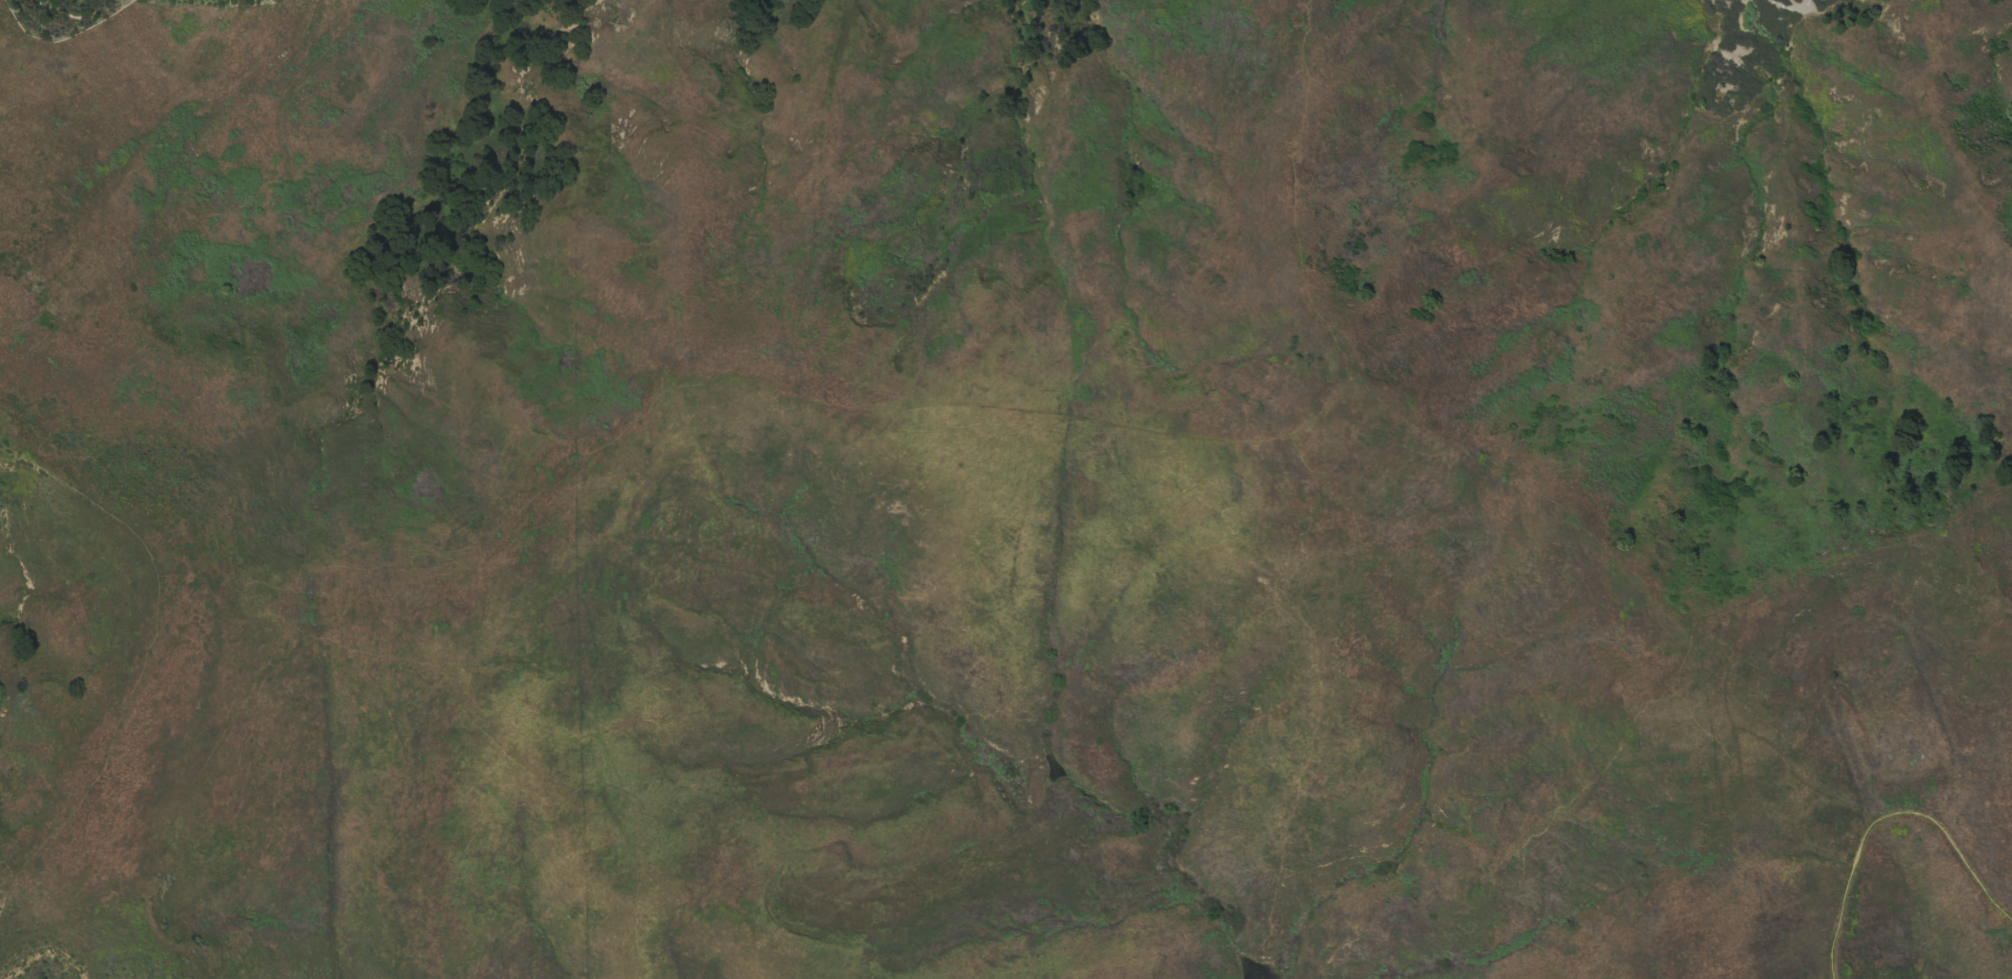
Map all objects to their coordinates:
road: (1973, 506)
road: (1829, 562)
road: (1736, 763)
road: (1885, 816)

